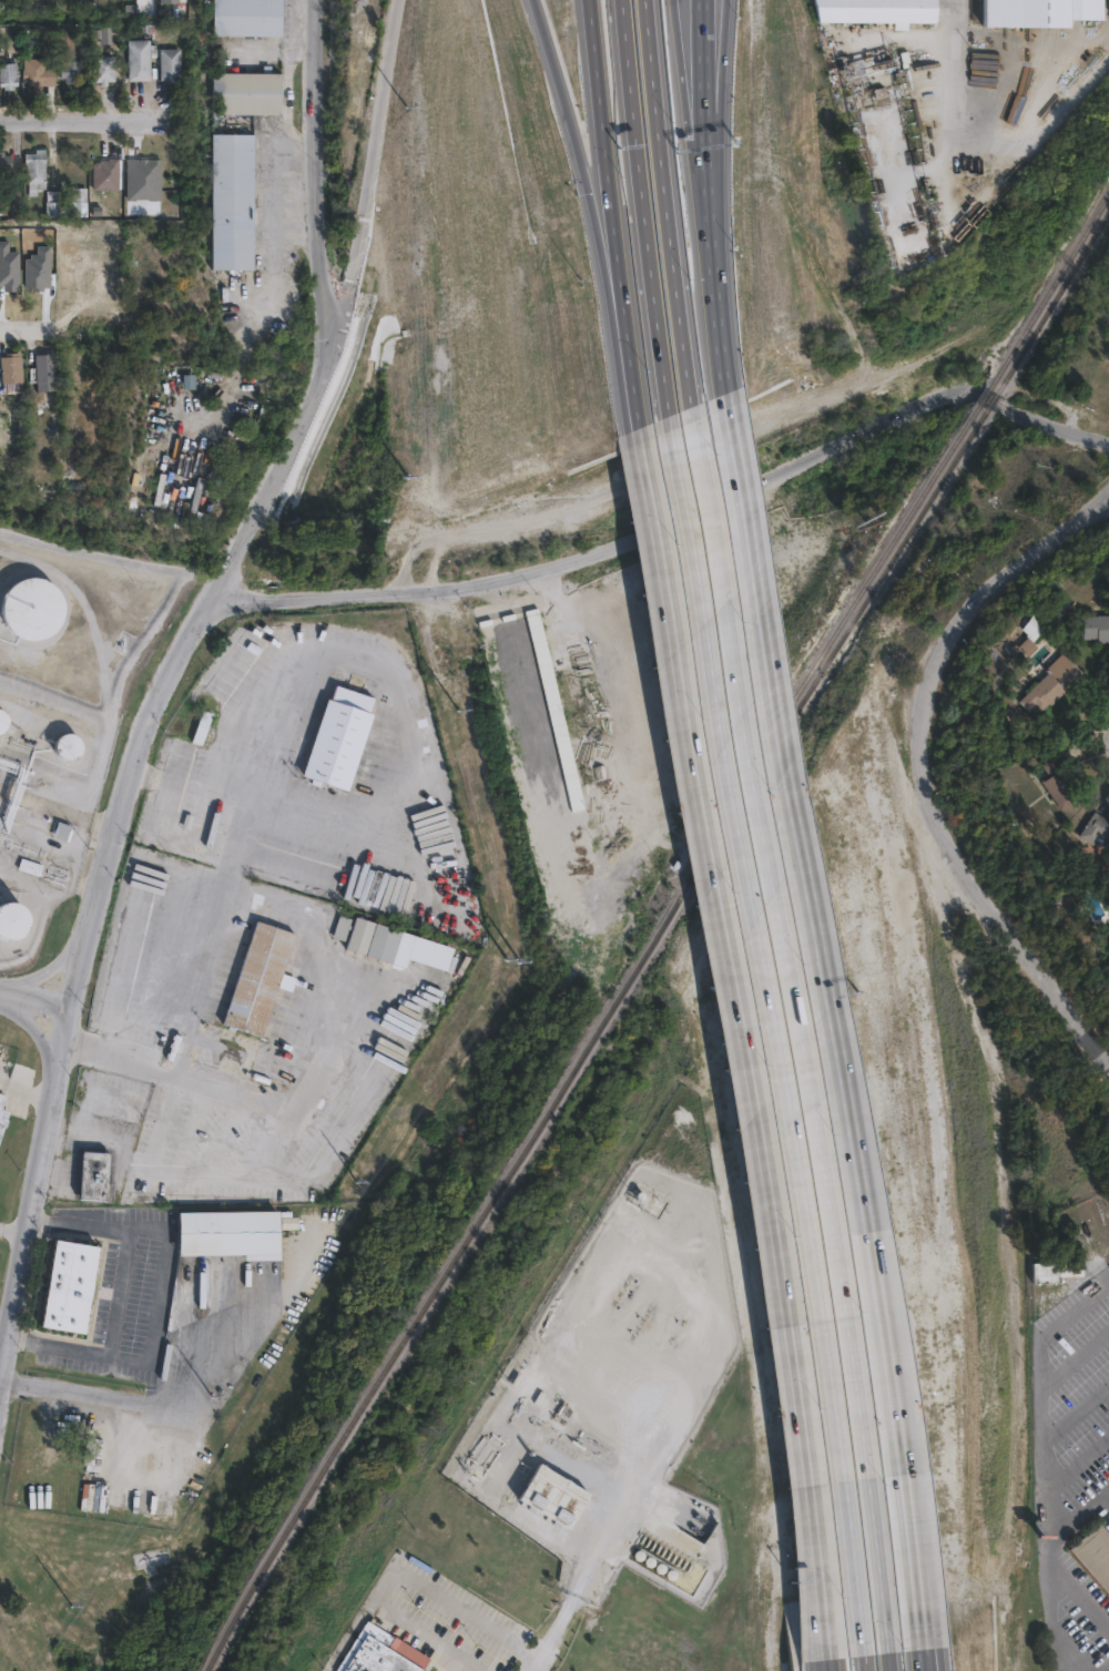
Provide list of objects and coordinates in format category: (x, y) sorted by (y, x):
building: (169, 2)
building: (876, 11)
building: (1042, 13)
building: (250, 18)
building: (70, 37)
building: (140, 64)
building: (170, 64)
road: (967, 64)
building: (71, 68)
building: (106, 70)
road: (699, 71)
road: (709, 71)
building: (9, 75)
building: (40, 77)
building: (518, 93)
building: (248, 94)
power tower: (404, 119)
road: (600, 120)
road: (70, 121)
road: (1048, 124)
road: (690, 144)
building: (6, 165)
building: (37, 166)
building: (105, 175)
road: (317, 184)
building: (78, 202)
building: (234, 202)
road: (664, 203)
building: (55, 205)
road: (642, 207)
road: (591, 212)
road: (704, 215)
road: (343, 302)
building: (472, 302)
road: (27, 329)
road: (624, 333)
road: (716, 340)
building: (47, 373)
building: (11, 378)
park: (1100, 404)
road: (734, 479)
power tower: (404, 500)
road: (679, 512)
railway: (895, 536)
building: (32, 608)
building: (1029, 632)
building: (1095, 632)
power tower: (439, 640)
building: (1052, 683)
building: (543, 692)
road: (399, 700)
building: (2, 722)
building: (344, 743)
building: (67, 747)
road: (138, 752)
road: (919, 765)
building: (1058, 781)
road: (74, 814)
building: (61, 831)
building: (1095, 836)
building: (30, 873)
road: (221, 889)
building: (12, 920)
building: (342, 929)
building: (384, 941)
railway: (654, 941)
power tower: (513, 944)
road: (51, 967)
road: (84, 974)
building: (261, 979)
road: (1, 989)
road: (39, 1002)
road: (798, 1028)
road: (773, 1033)
road: (740, 1037)
road: (37, 1038)
road: (316, 1089)
road: (28, 1093)
road: (846, 1107)
building: (3, 1115)
power tower: (366, 1164)
building: (99, 1184)
road: (37, 1216)
road: (16, 1233)
building: (231, 1241)
building: (1052, 1278)
building: (74, 1294)
road: (159, 1297)
road: (3, 1380)
road: (167, 1405)
building: (93, 1451)
road: (1056, 1470)
building: (560, 1505)
road: (607, 1528)
building: (1095, 1556)
road: (409, 1576)
power tower: (67, 1613)
building: (383, 1655)
road: (823, 1655)
road: (542, 1660)
road: (926, 1660)
road: (928, 1660)
road: (863, 1662)
road: (887, 1662)
road: (448, 1665)
road: (821, 1665)
road: (823, 1665)

